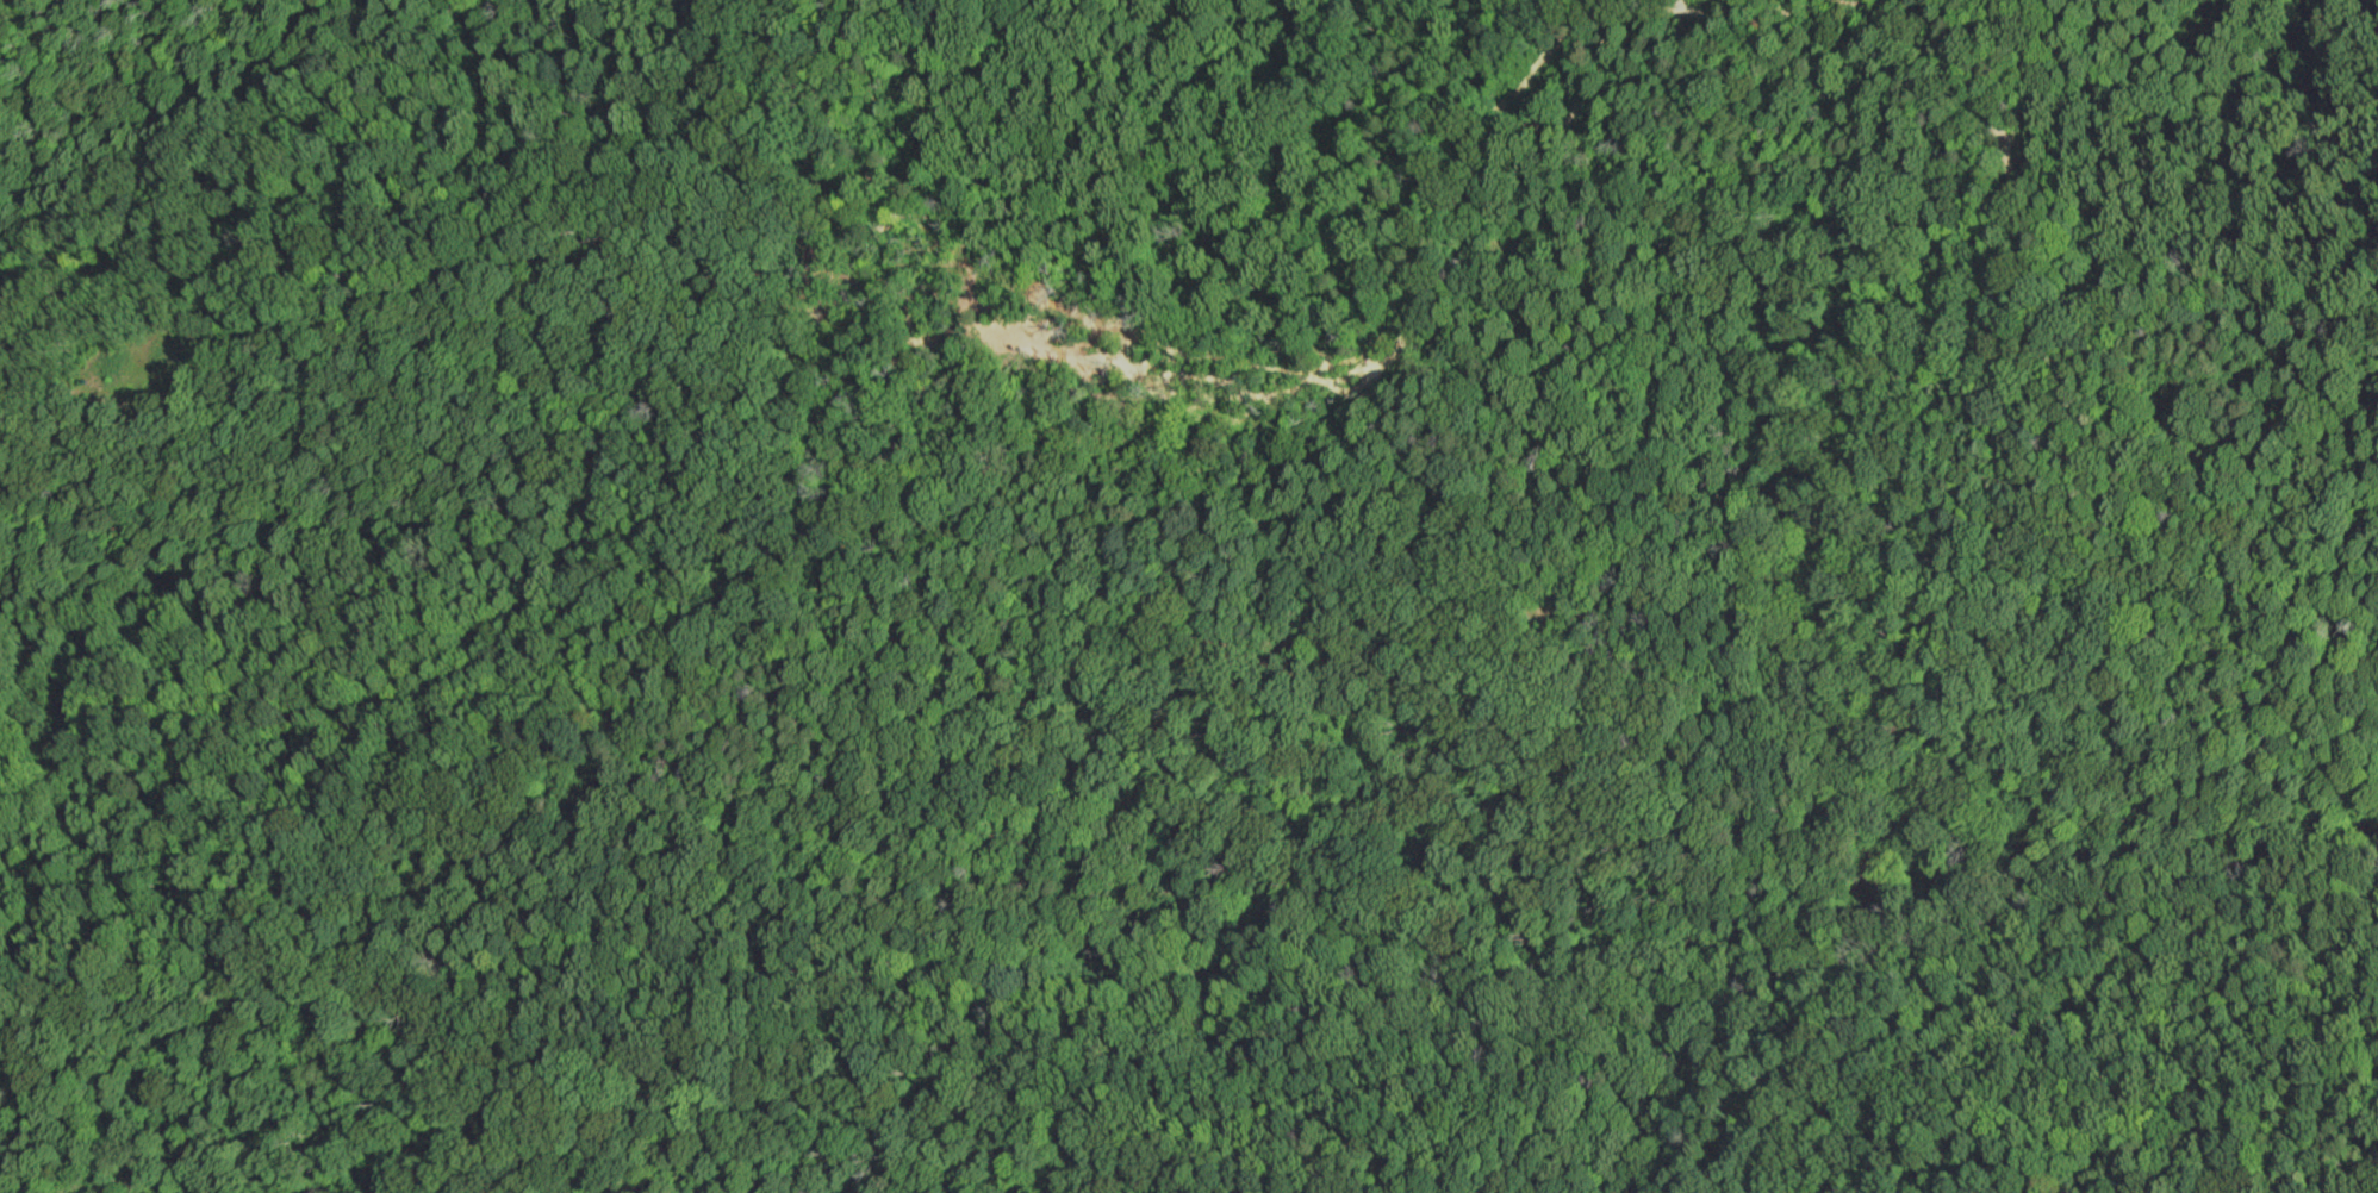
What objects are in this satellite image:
road: (2046, 269)
road: (1289, 366)

